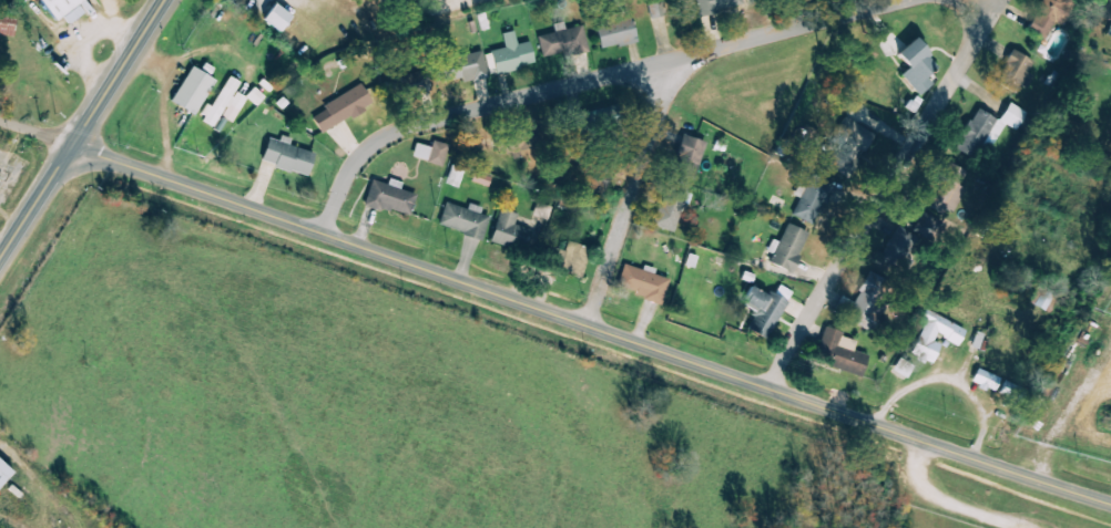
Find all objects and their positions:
road: (432, 6)
building: (718, 6)
building: (58, 7)
building: (656, 8)
building: (1108, 11)
building: (74, 14)
building: (1050, 15)
building: (277, 18)
building: (7, 23)
building: (616, 32)
building: (563, 42)
building: (513, 54)
building: (917, 66)
building: (465, 69)
building: (1017, 72)
road: (589, 80)
building: (411, 84)
building: (194, 91)
building: (226, 104)
building: (344, 108)
building: (1015, 116)
road: (83, 128)
road: (37, 130)
building: (978, 133)
building: (852, 147)
building: (432, 153)
building: (288, 156)
building: (689, 157)
building: (456, 176)
building: (482, 179)
building: (949, 191)
road: (629, 194)
road: (877, 194)
building: (391, 197)
building: (814, 200)
building: (672, 205)
building: (544, 211)
building: (466, 220)
building: (510, 231)
building: (791, 248)
building: (899, 249)
building: (577, 259)
road: (420, 268)
building: (644, 283)
building: (867, 302)
building: (766, 310)
building: (937, 338)
building: (844, 353)
building: (904, 369)
building: (987, 381)
road: (940, 446)
building: (3, 474)

